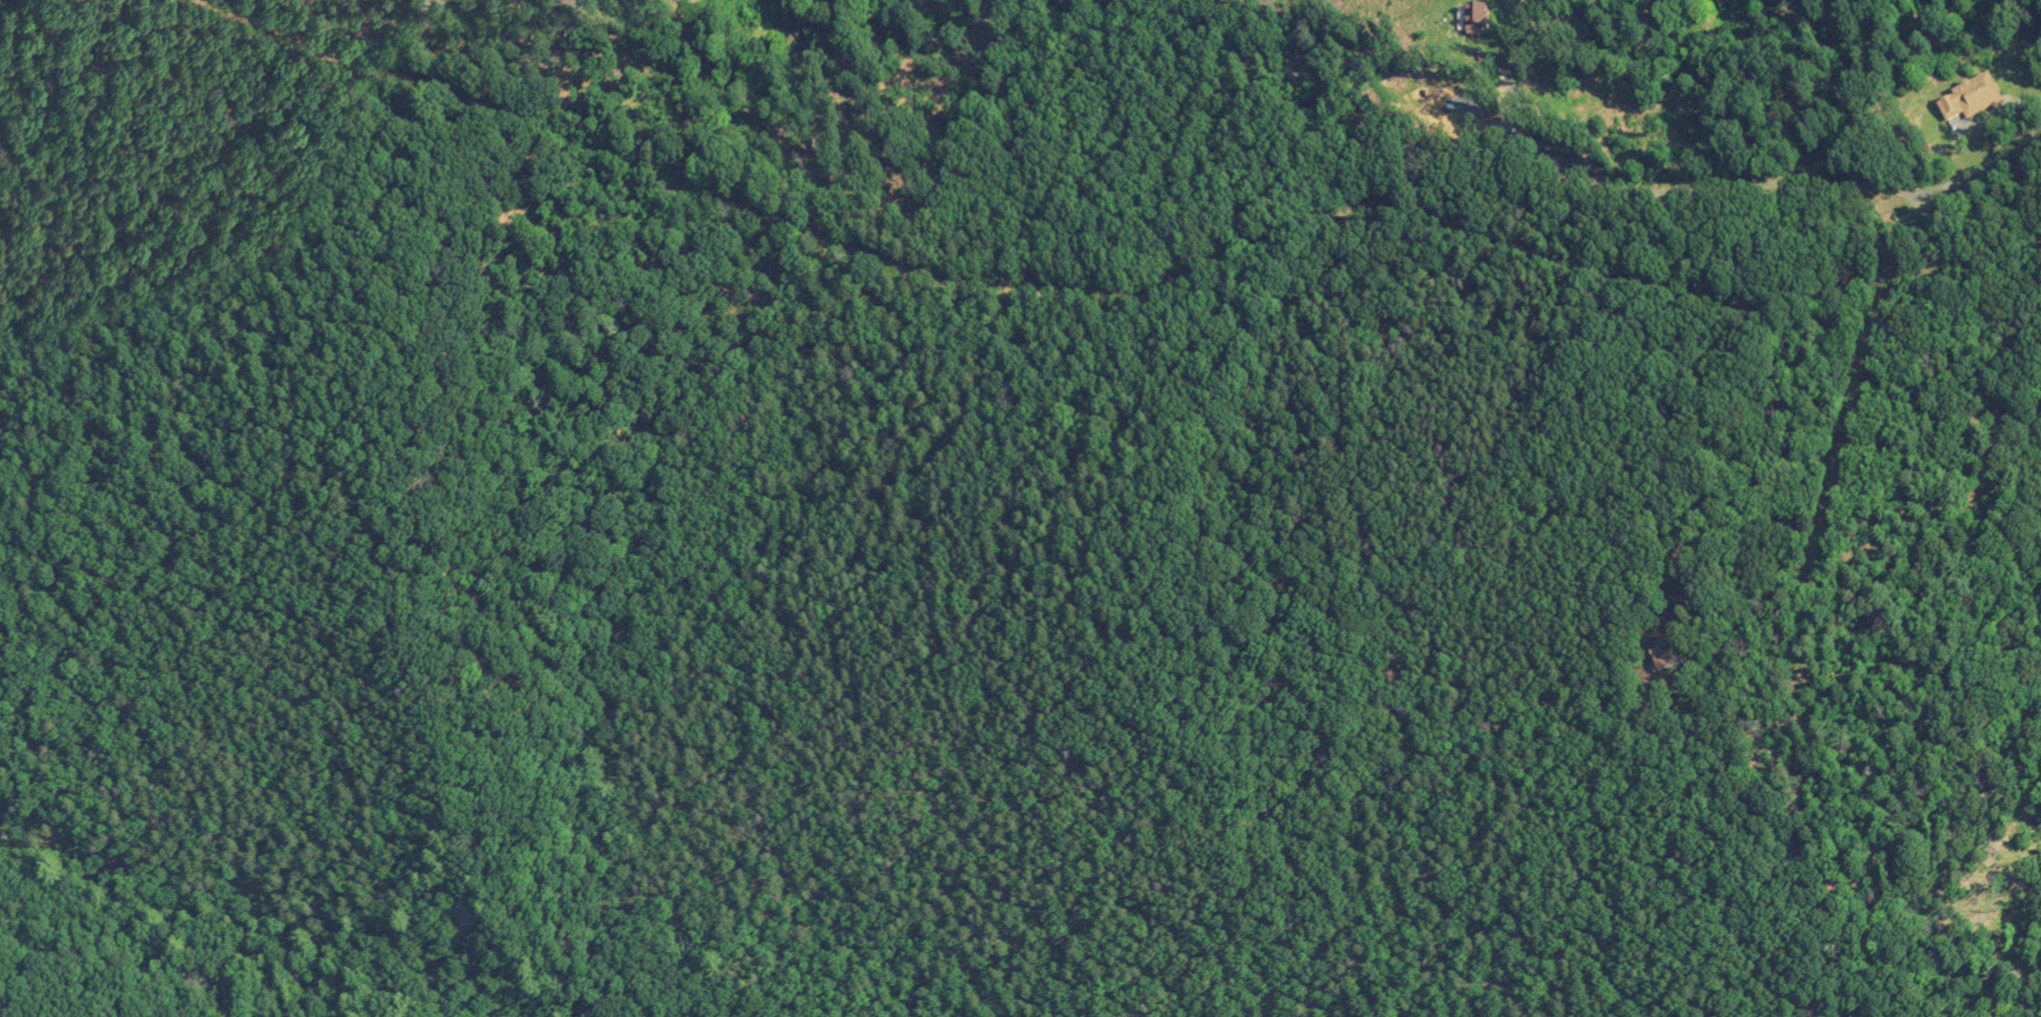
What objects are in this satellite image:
building: (1971, 102)
building: (1666, 657)

